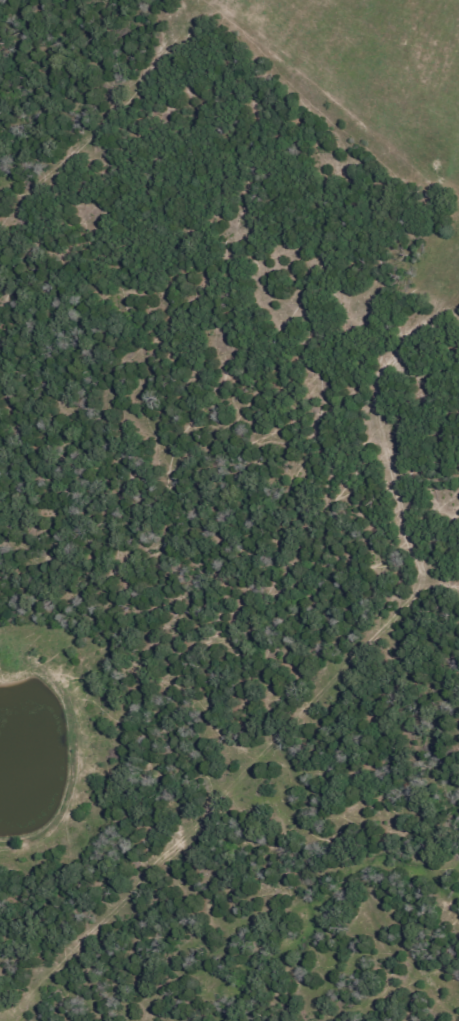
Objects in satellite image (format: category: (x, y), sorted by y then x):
road: (38, 82)

